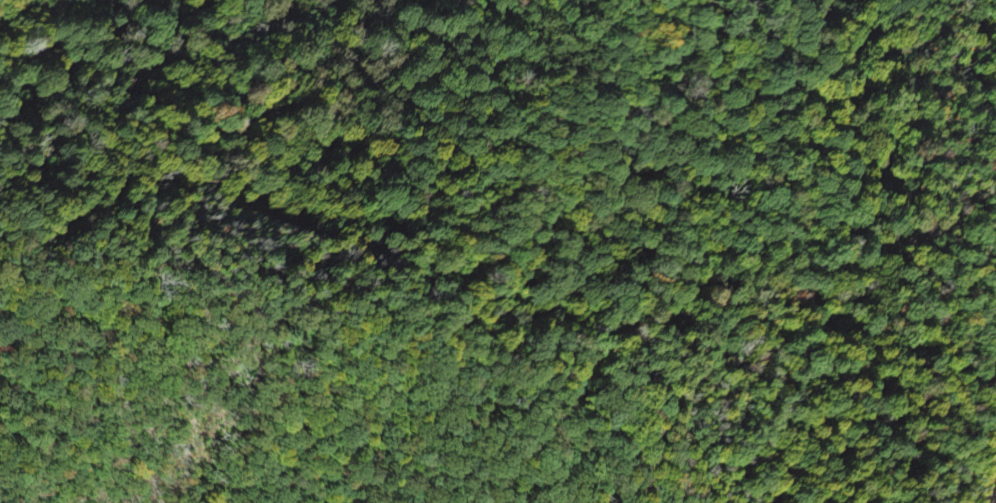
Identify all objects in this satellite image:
road: (376, 313)

